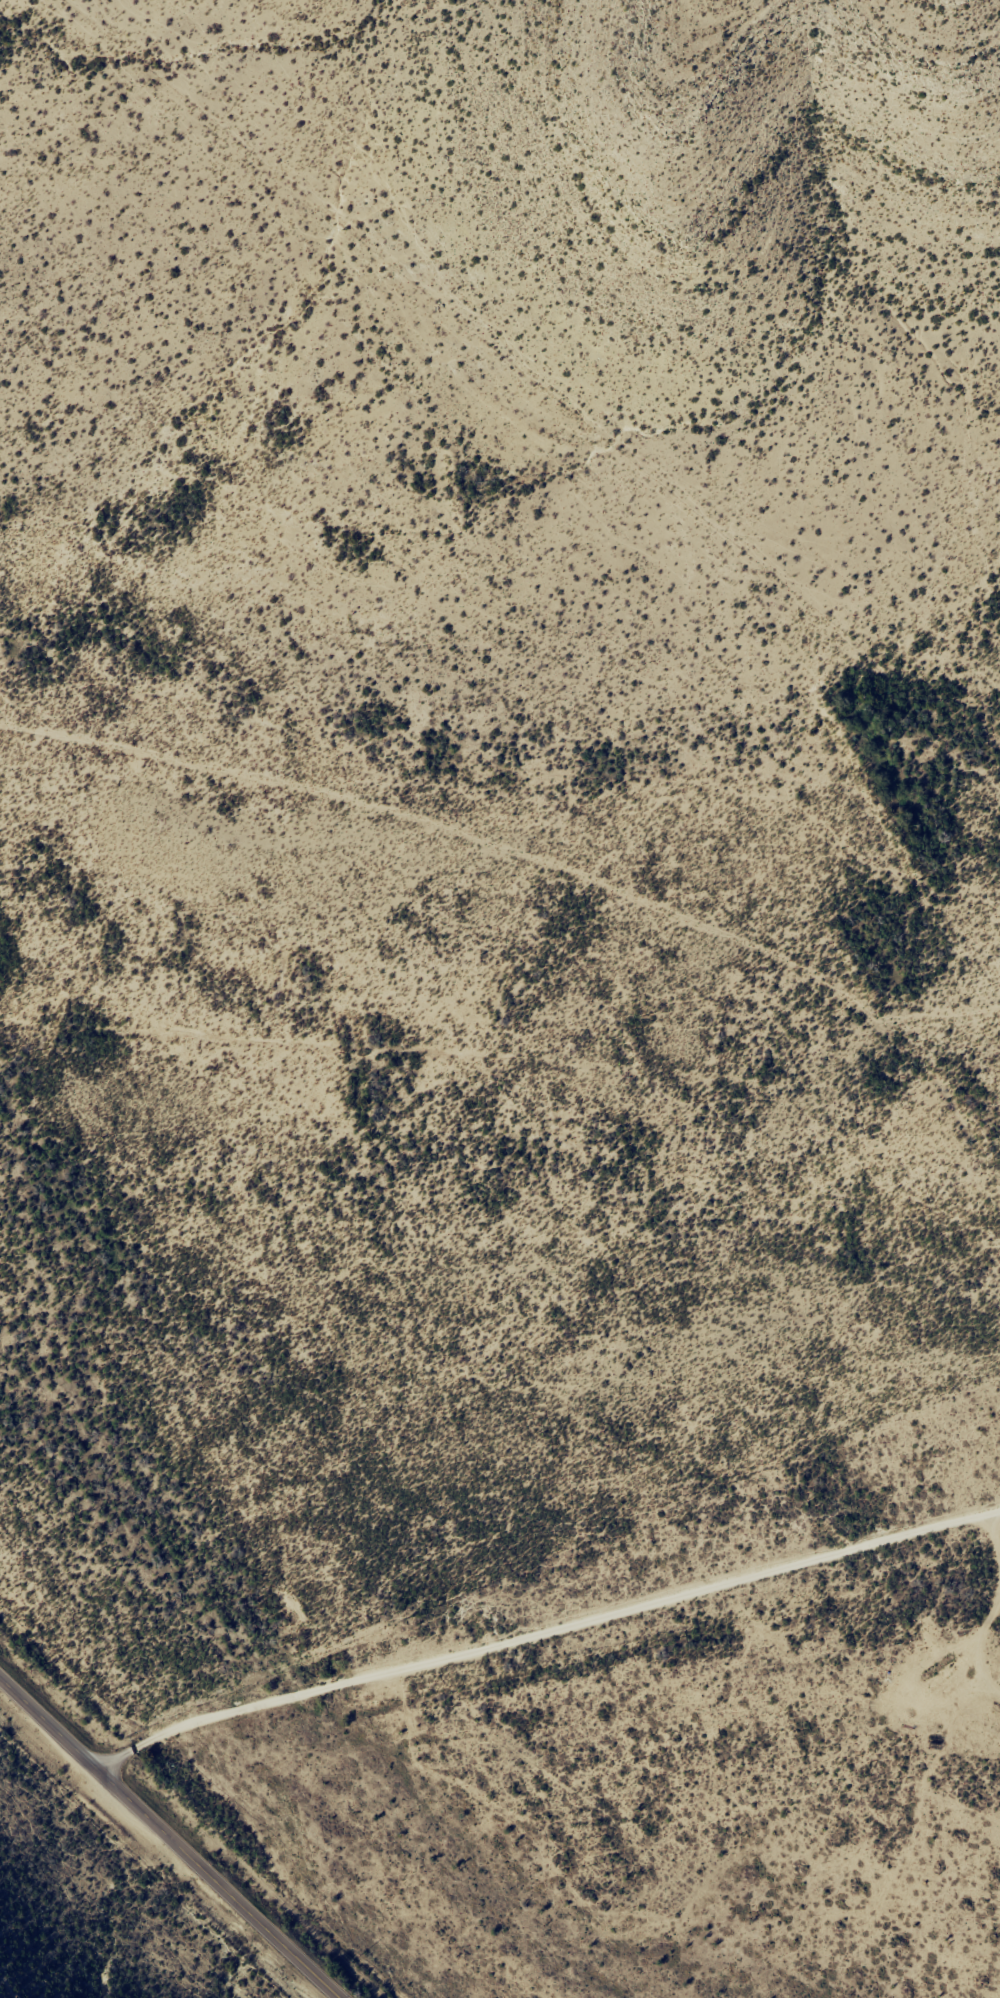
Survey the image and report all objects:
road: (538, 1627)
road: (172, 1836)

